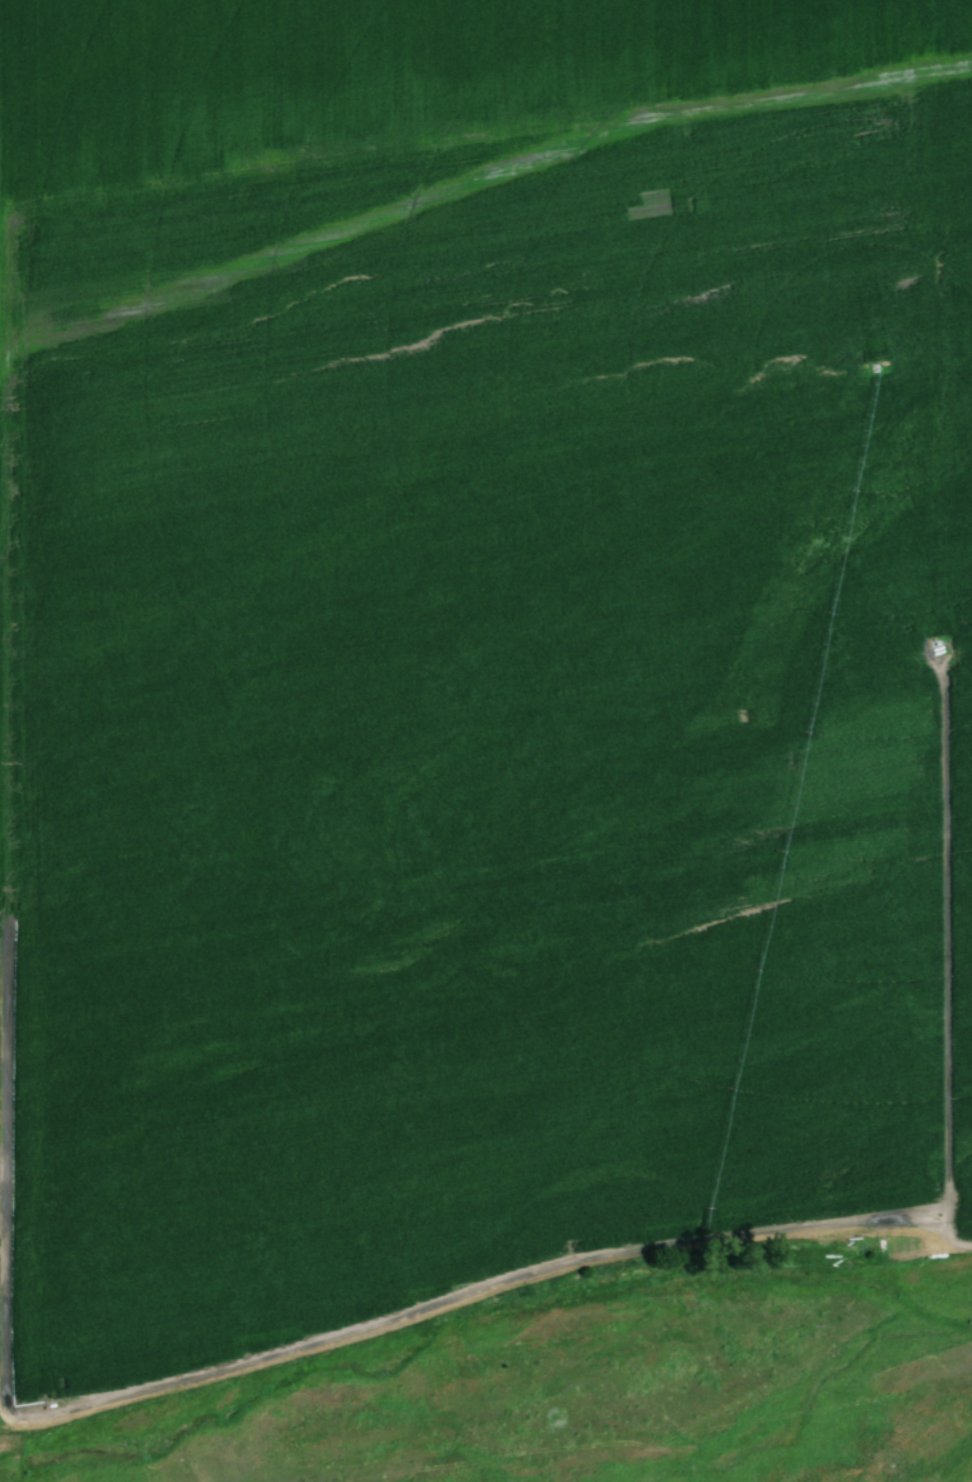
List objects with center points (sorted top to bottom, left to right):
road: (961, 1235)

